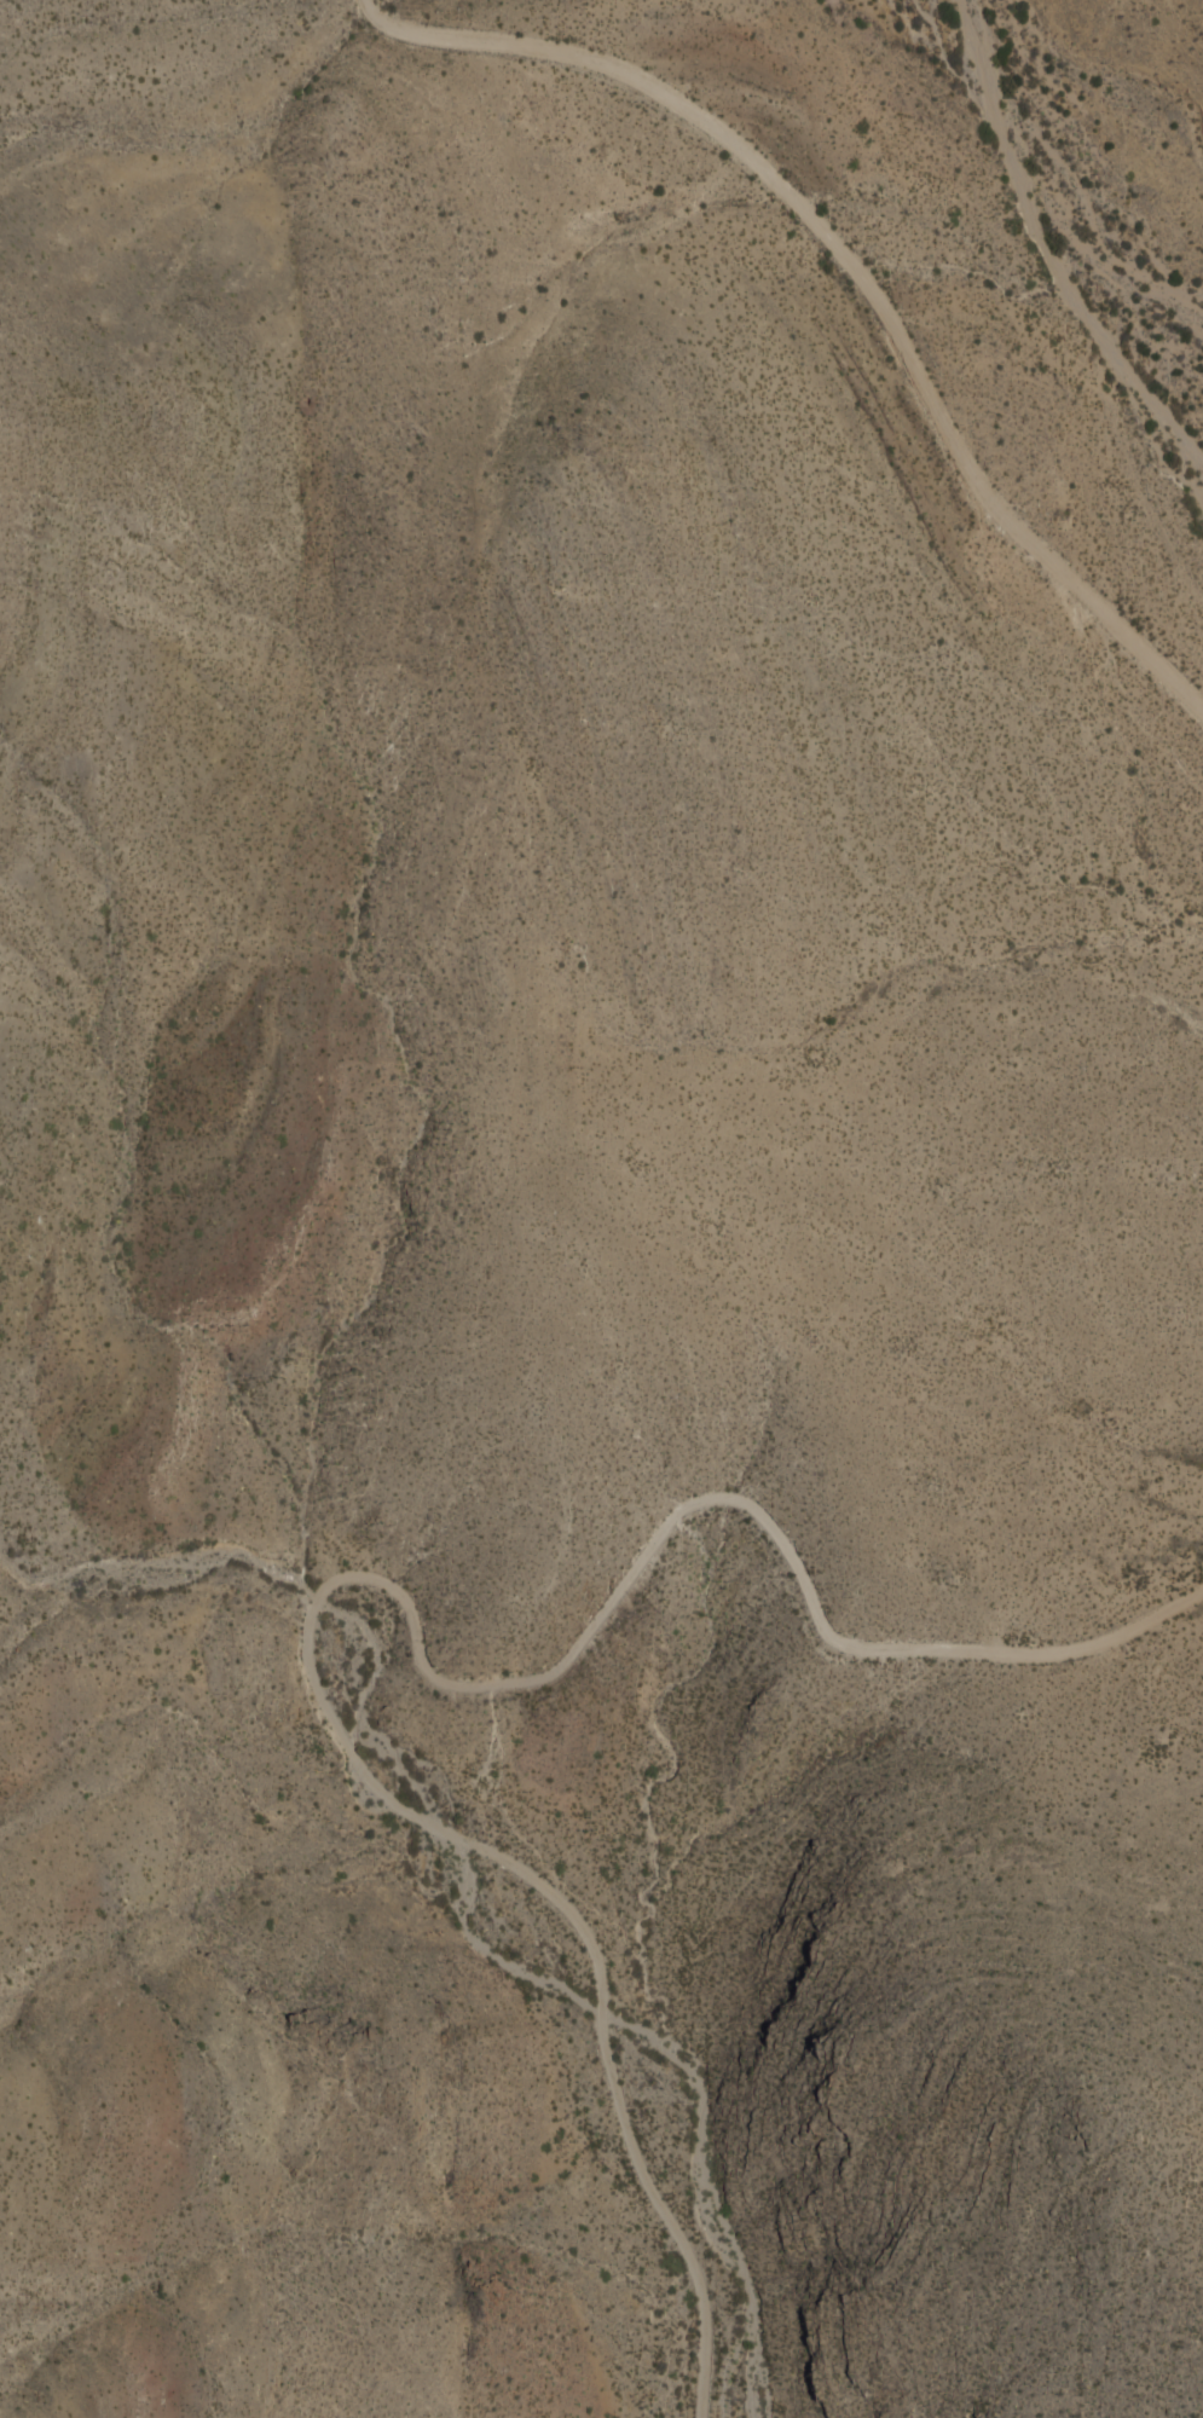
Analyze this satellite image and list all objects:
river: (383, 1)
river: (366, 12)
river: (937, 48)
river: (244, 129)
river: (722, 199)
road: (843, 267)
river: (852, 274)
river: (970, 276)
road: (386, 1587)
river: (717, 2237)

